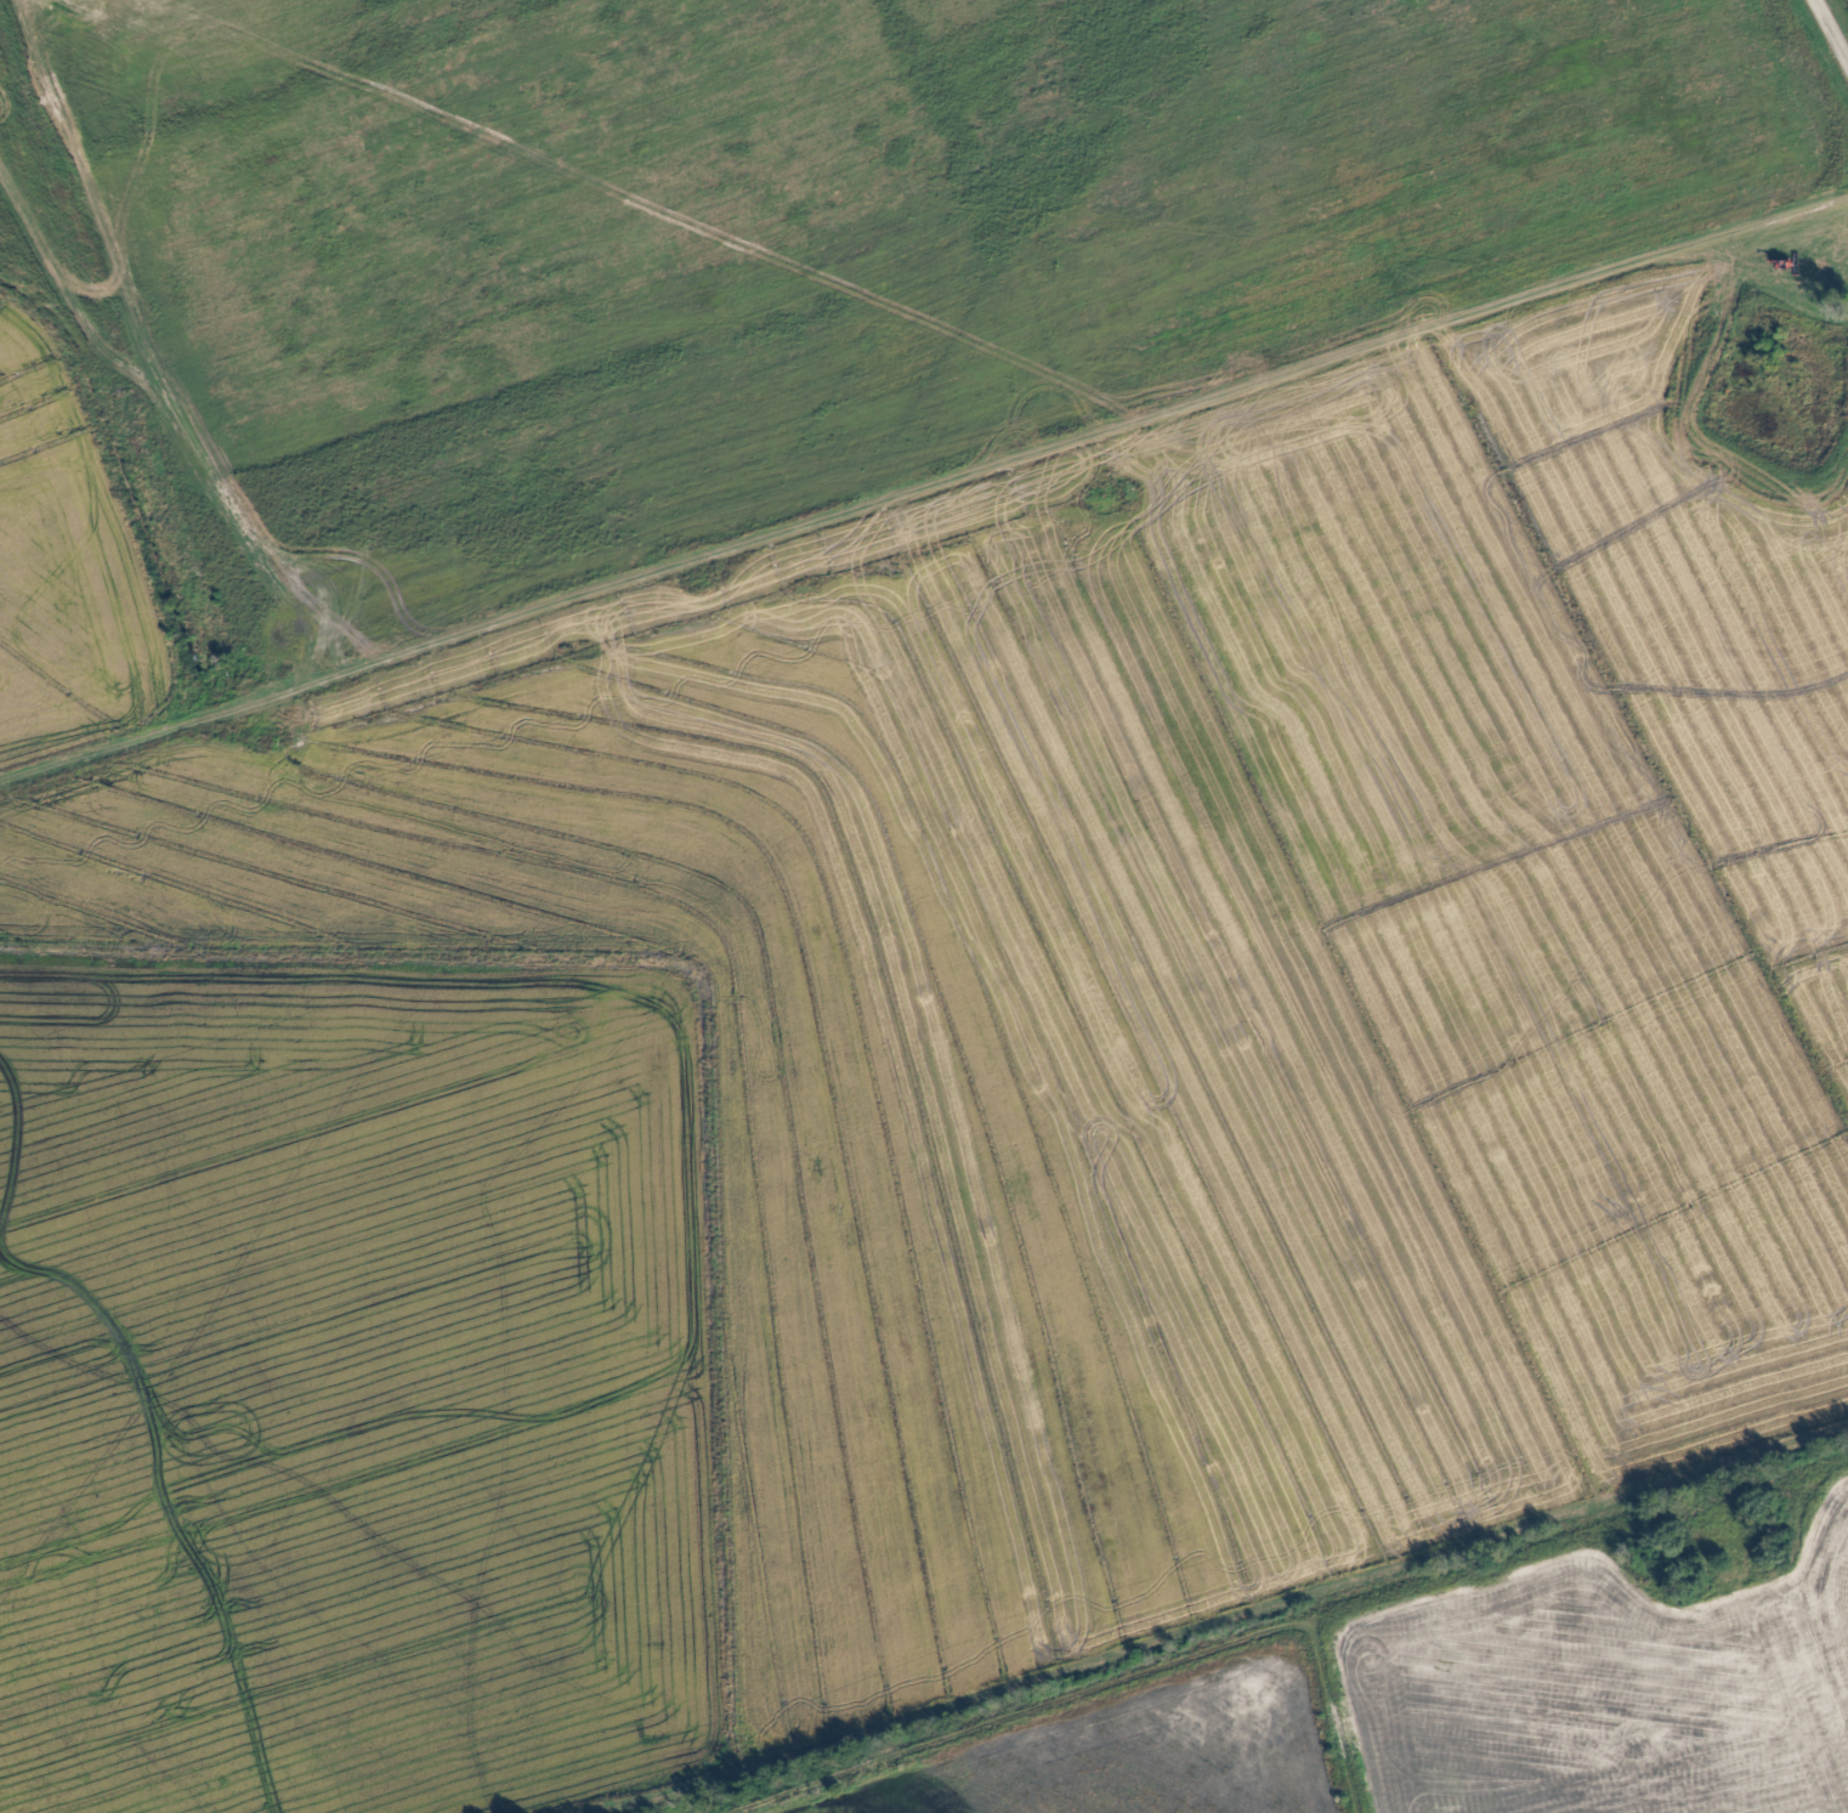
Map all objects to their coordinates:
road: (1831, 29)

